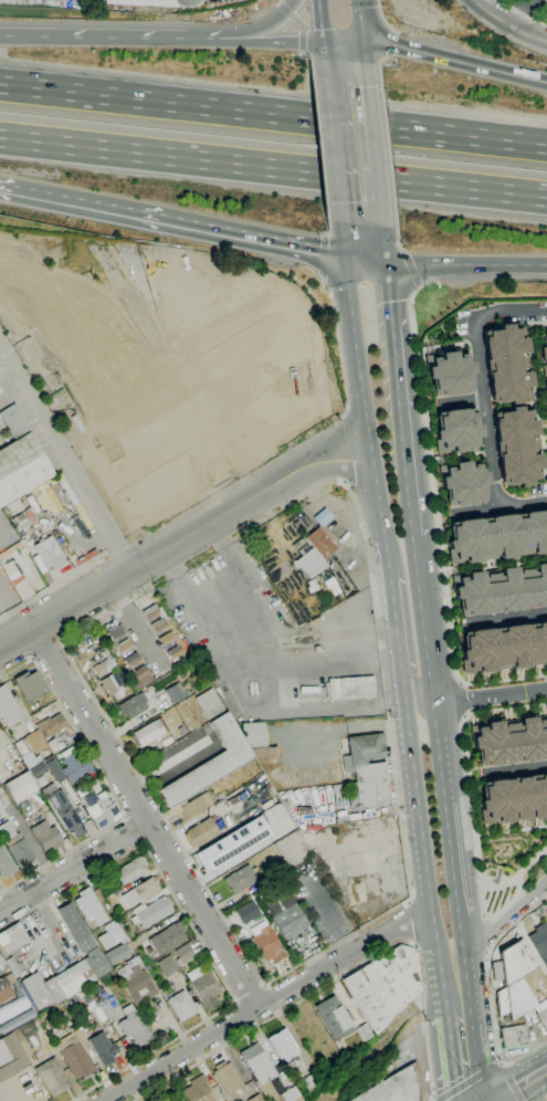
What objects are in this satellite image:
road: (189, 1)
building: (138, 2)
road: (280, 2)
road: (285, 11)
road: (513, 11)
road: (523, 13)
road: (386, 21)
road: (298, 22)
road: (319, 22)
road: (360, 22)
road: (267, 23)
road: (507, 25)
road: (108, 40)
road: (229, 42)
road: (302, 42)
road: (281, 43)
road: (389, 43)
road: (343, 44)
traffic signals: (364, 44)
traffic signals: (323, 45)
road: (323, 52)
road: (365, 53)
road: (306, 54)
road: (380, 59)
road: (455, 63)
road: (325, 74)
road: (273, 115)
road: (319, 138)
road: (375, 145)
road: (386, 146)
road: (333, 156)
road: (273, 167)
road: (172, 223)
road: (328, 229)
road: (343, 241)
road: (396, 242)
road: (387, 247)
road: (403, 250)
road: (320, 255)
traffic signals: (346, 261)
road: (367, 263)
traffic signals: (389, 266)
road: (467, 266)
road: (410, 268)
road: (418, 286)
road: (296, 307)
building: (546, 332)
road: (223, 336)
building: (308, 342)
building: (242, 343)
building: (543, 349)
building: (97, 350)
road: (196, 353)
building: (506, 365)
building: (449, 373)
road: (9, 377)
road: (483, 378)
building: (544, 379)
road: (256, 386)
road: (406, 402)
road: (456, 402)
building: (270, 408)
building: (546, 410)
road: (366, 412)
building: (14, 422)
road: (229, 423)
building: (455, 431)
building: (516, 447)
road: (194, 451)
building: (238, 453)
road: (64, 454)
building: (21, 469)
road: (428, 475)
building: (462, 483)
road: (235, 486)
building: (156, 492)
road: (523, 506)
building: (162, 507)
road: (473, 513)
road: (144, 516)
building: (323, 517)
building: (20, 522)
building: (497, 536)
road: (182, 542)
building: (298, 543)
building: (50, 553)
building: (314, 554)
road: (230, 560)
building: (501, 590)
road: (392, 614)
building: (149, 616)
road: (501, 620)
road: (433, 621)
building: (126, 641)
building: (165, 642)
building: (504, 648)
road: (48, 650)
road: (259, 650)
building: (104, 667)
building: (143, 668)
building: (143, 682)
building: (113, 684)
building: (29, 685)
building: (351, 688)
road: (418, 688)
building: (176, 692)
road: (495, 696)
road: (460, 701)
building: (209, 704)
building: (133, 705)
building: (8, 709)
road: (309, 710)
building: (51, 725)
building: (149, 732)
building: (254, 734)
building: (509, 742)
building: (31, 747)
road: (449, 752)
building: (211, 763)
building: (76, 767)
building: (54, 768)
building: (39, 769)
road: (514, 770)
building: (365, 773)
road: (106, 785)
building: (21, 787)
building: (513, 799)
building: (97, 806)
building: (191, 806)
road: (400, 811)
building: (66, 812)
road: (148, 814)
road: (134, 831)
building: (200, 831)
road: (421, 832)
building: (46, 836)
building: (234, 842)
road: (474, 845)
building: (15, 847)
road: (545, 852)
building: (6, 863)
road: (76, 868)
building: (276, 868)
building: (130, 871)
road: (462, 878)
building: (241, 879)
building: (141, 892)
building: (88, 905)
building: (546, 910)
building: (154, 912)
building: (245, 912)
road: (508, 919)
building: (290, 921)
road: (196, 934)
building: (111, 935)
building: (12, 939)
building: (168, 939)
building: (539, 941)
building: (269, 945)
building: (117, 953)
building: (183, 954)
building: (92, 963)
building: (514, 963)
building: (13, 966)
building: (167, 966)
road: (338, 977)
building: (136, 984)
building: (385, 986)
building: (203, 987)
building: (9, 988)
building: (95, 988)
road: (473, 989)
building: (85, 990)
road: (490, 993)
building: (513, 999)
road: (263, 1002)
building: (181, 1006)
building: (106, 1009)
building: (334, 1017)
building: (543, 1018)
building: (135, 1028)
building: (365, 1031)
building: (513, 1036)
building: (103, 1048)
building: (284, 1048)
building: (74, 1051)
road: (449, 1055)
building: (11, 1057)
road: (481, 1061)
road: (499, 1062)
road: (485, 1071)
building: (266, 1074)
building: (51, 1077)
building: (227, 1079)
building: (314, 1080)
road: (523, 1086)
building: (395, 1088)
building: (198, 1090)
building: (255, 1098)
building: (167, 1099)
building: (159, 1100)
road: (545, 1100)

